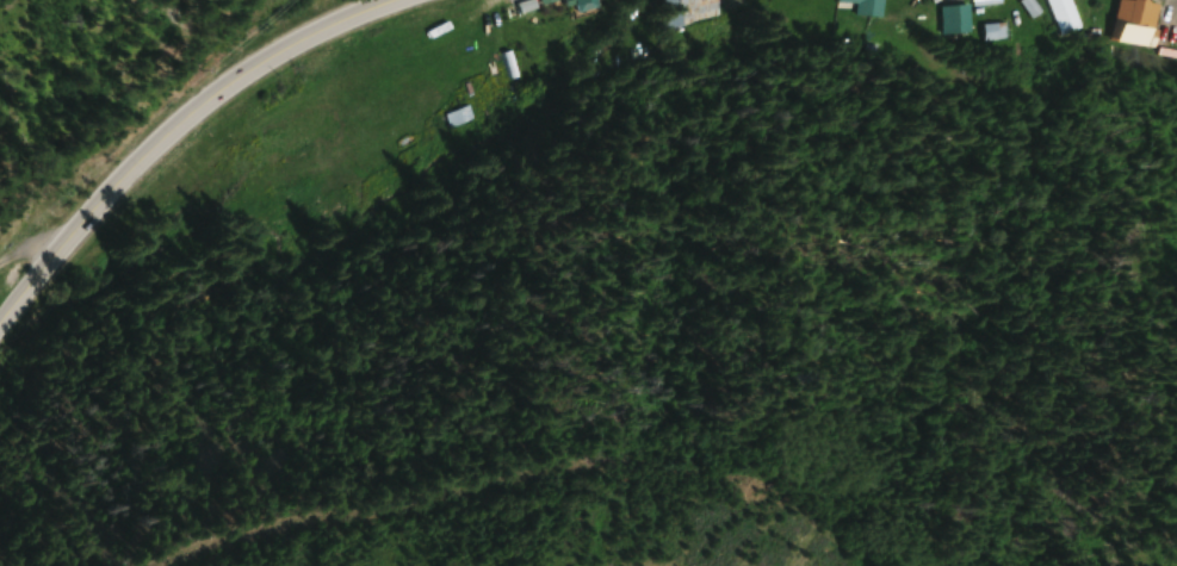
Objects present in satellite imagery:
building: (547, 1)
building: (731, 2)
building: (985, 2)
building: (586, 5)
building: (867, 7)
building: (689, 10)
building: (1065, 15)
building: (954, 20)
building: (1140, 23)
building: (992, 32)
building: (459, 117)
road: (178, 130)

